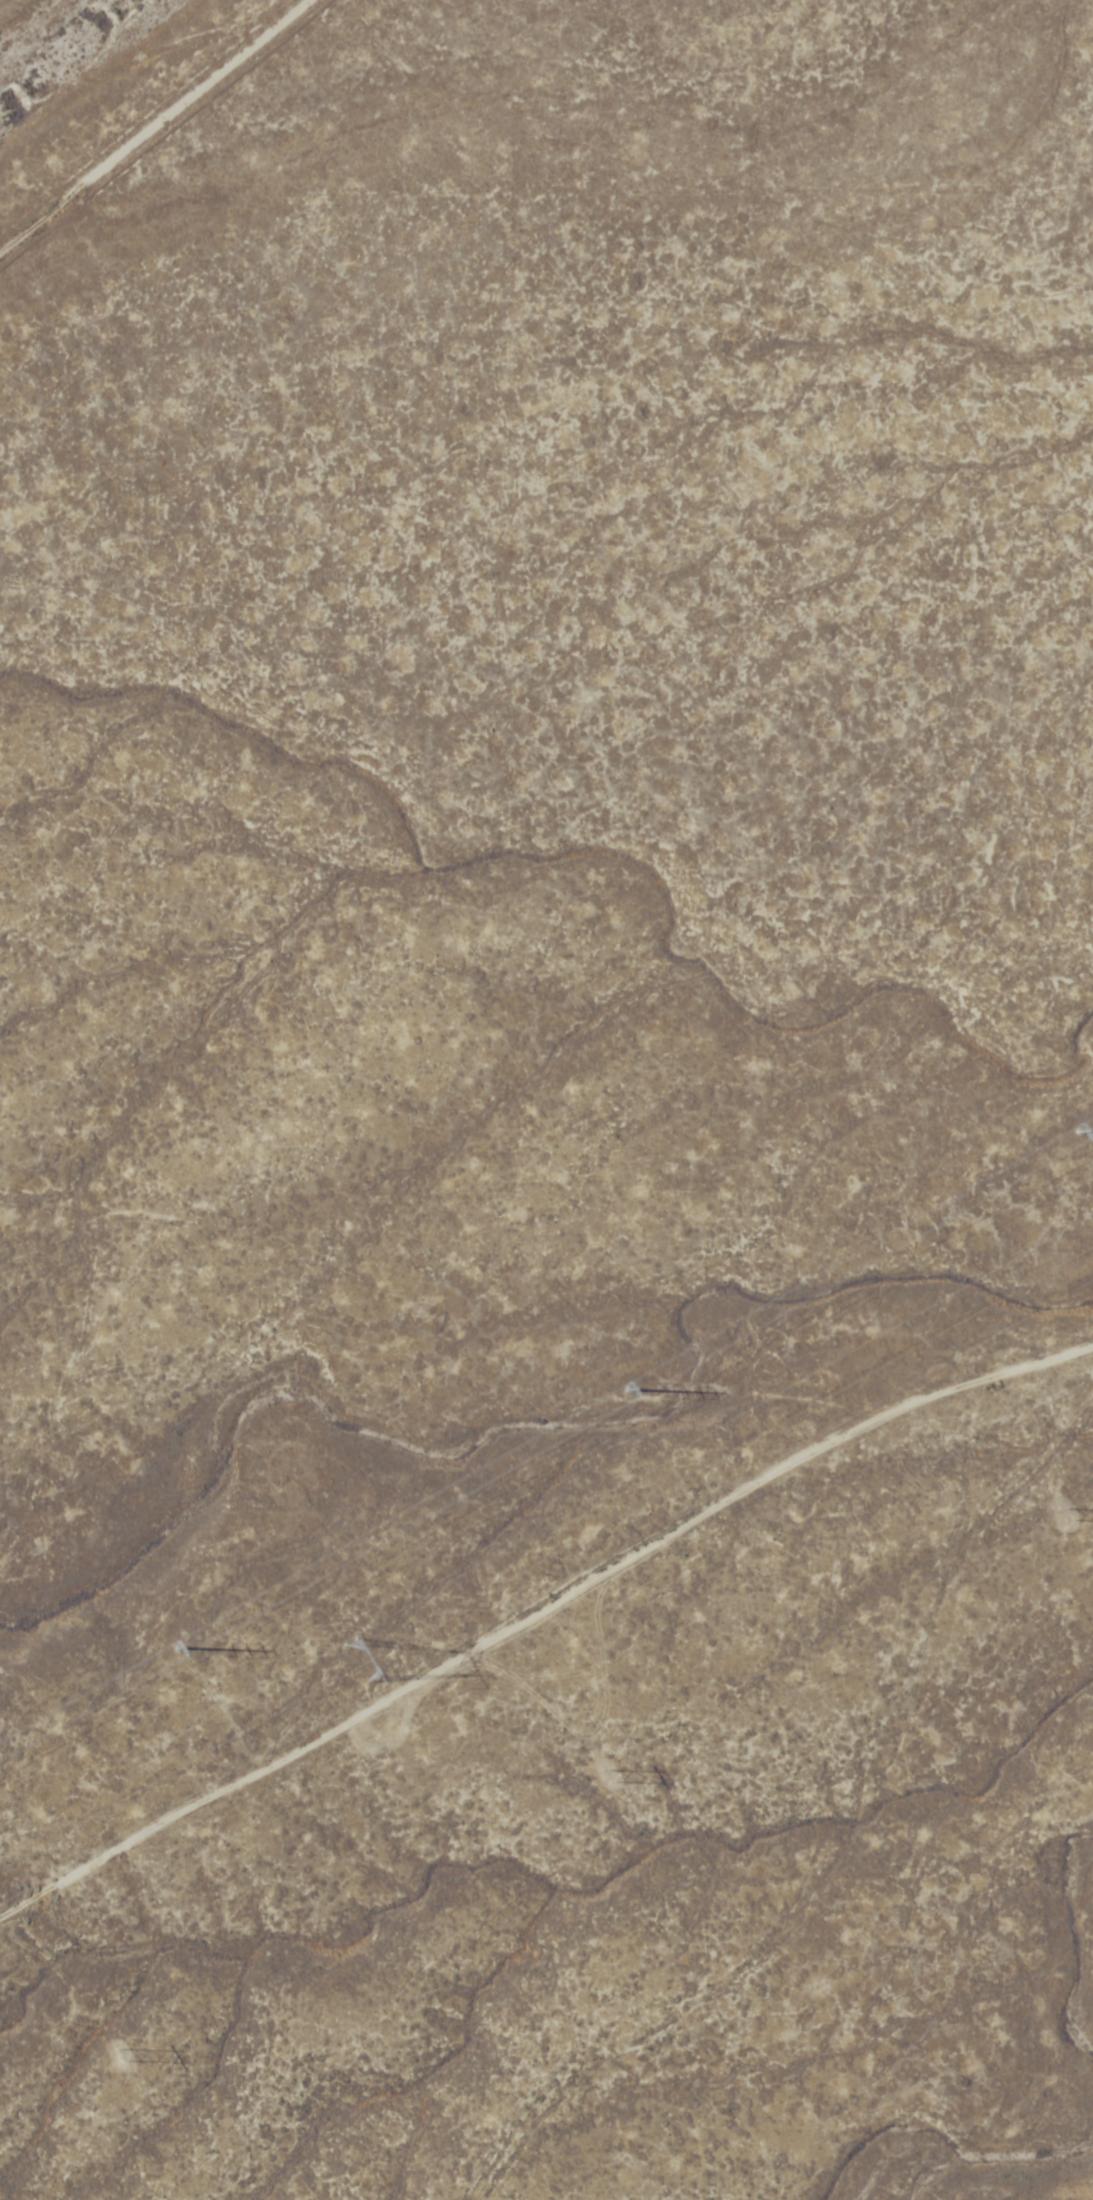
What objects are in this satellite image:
road: (175, 181)
power tower: (1077, 1132)
power tower: (629, 1396)
power tower: (1078, 1513)
power tower: (193, 1654)
power tower: (356, 1662)
power tower: (648, 1754)
power tower: (130, 2055)

